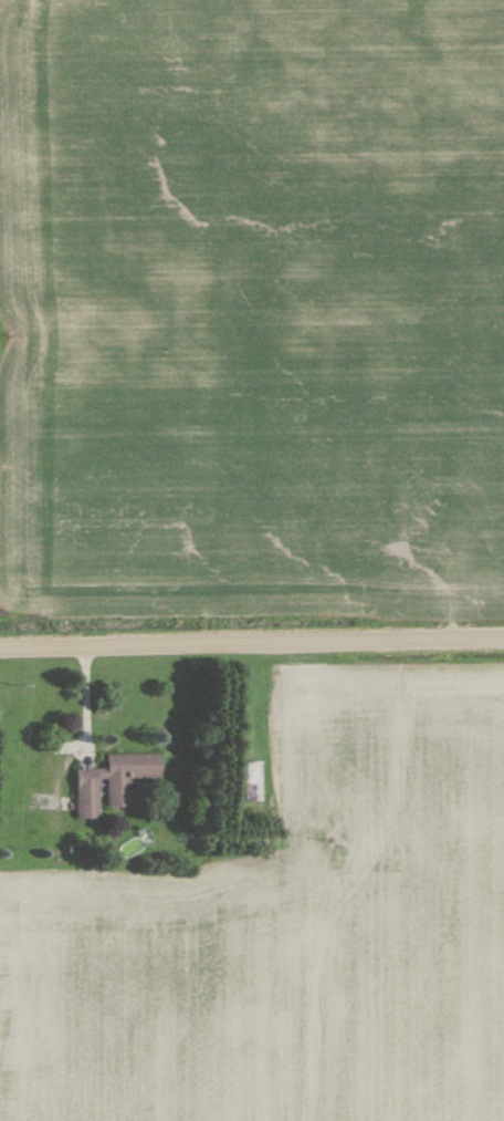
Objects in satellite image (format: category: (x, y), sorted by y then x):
road: (251, 640)
road: (80, 716)
building: (252, 781)
building: (113, 782)

